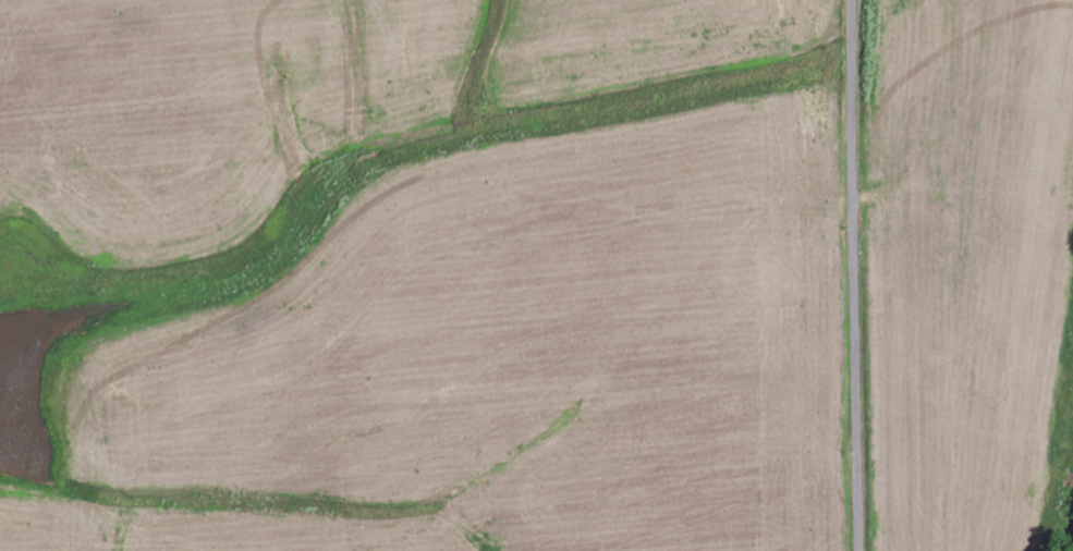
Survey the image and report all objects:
road: (855, 275)

